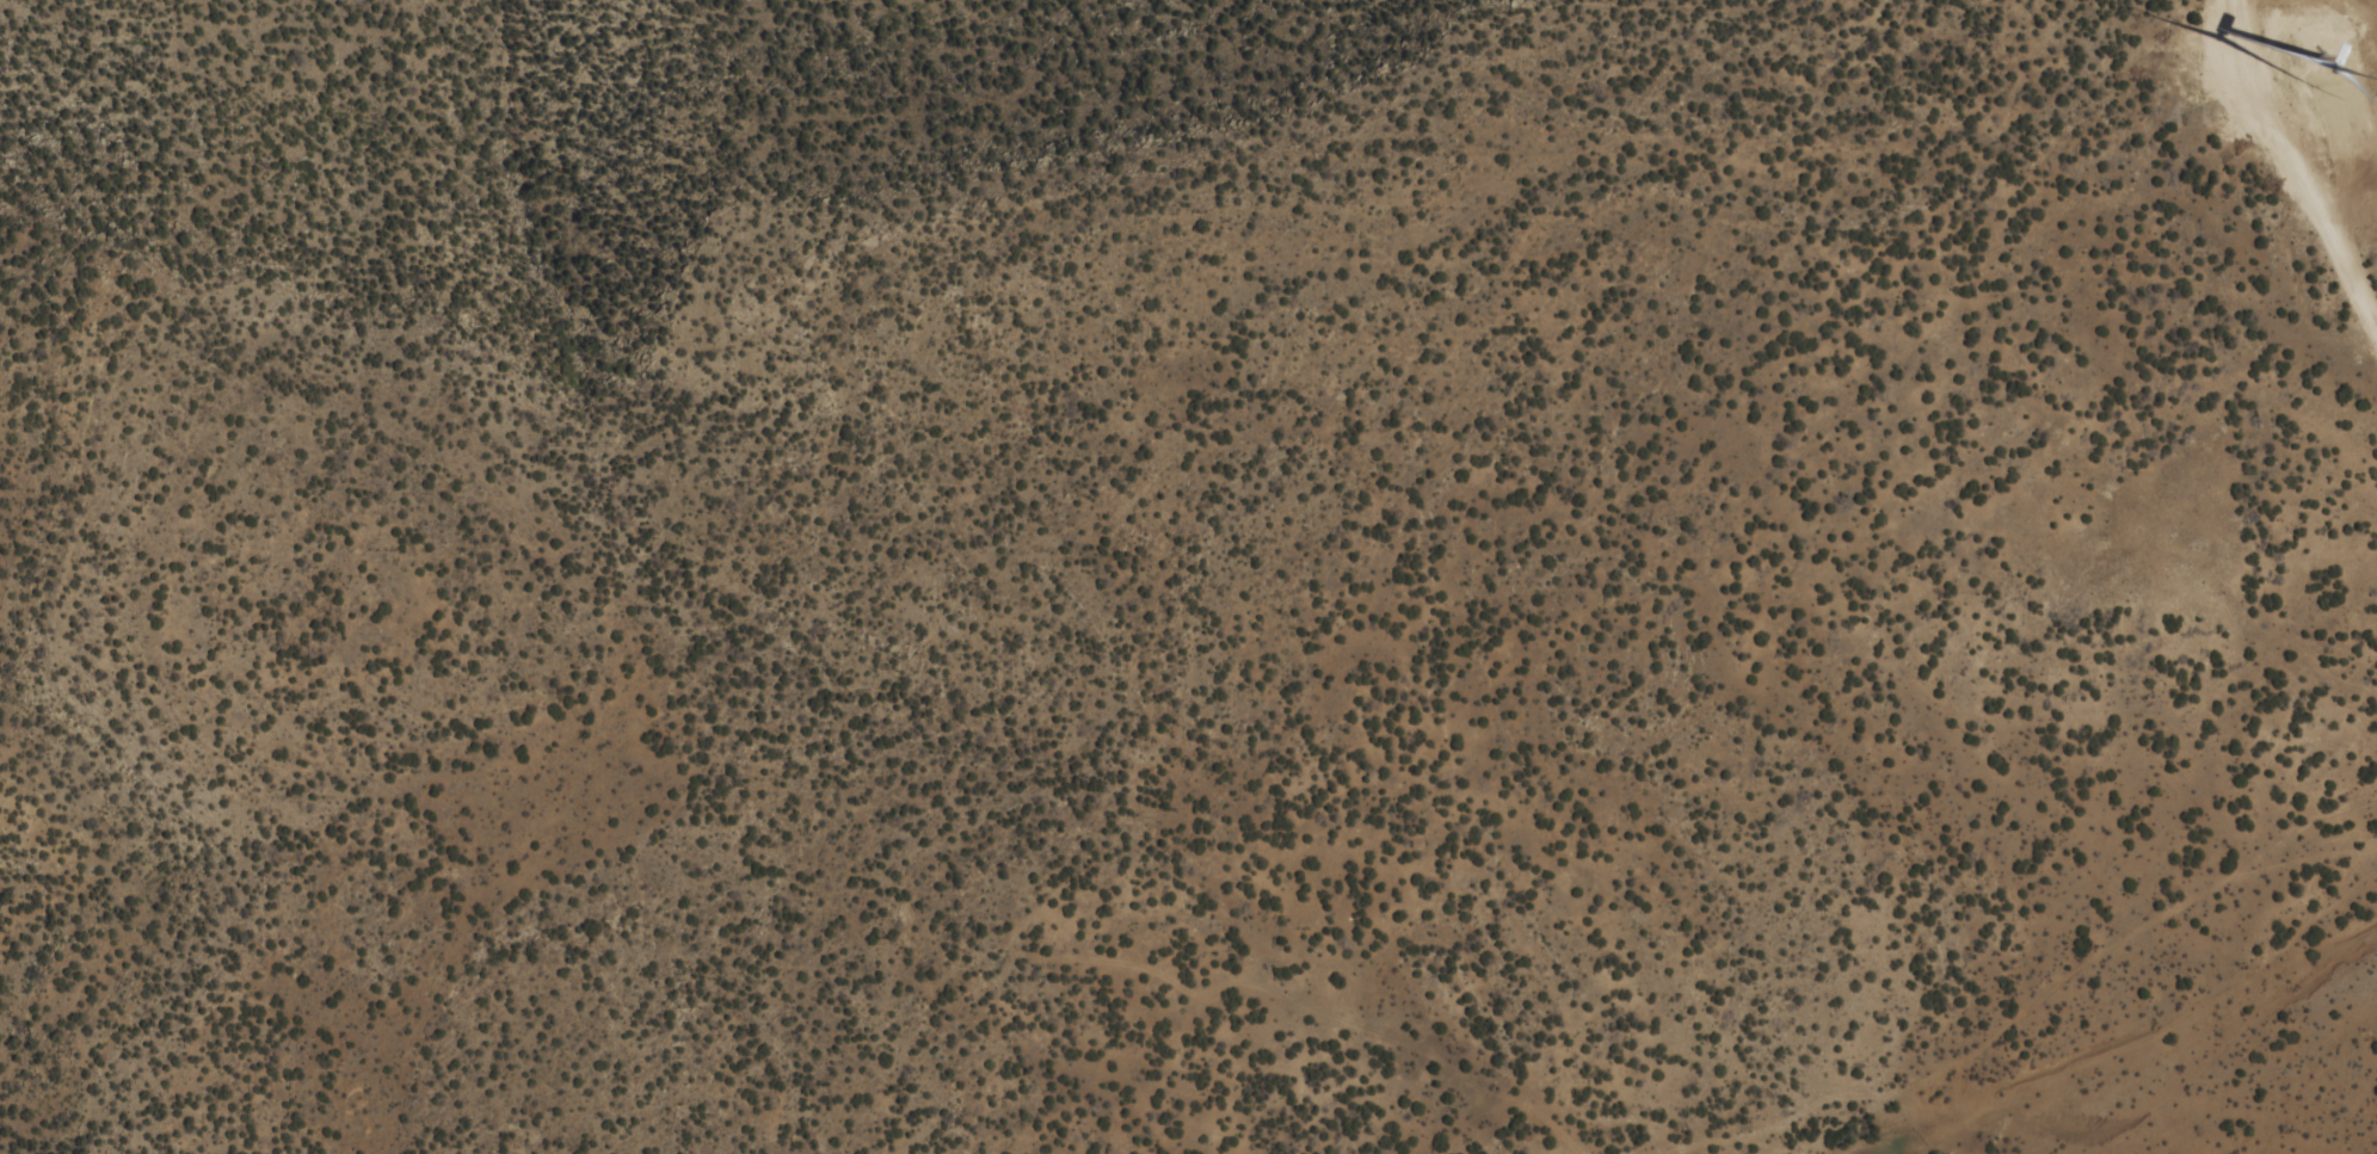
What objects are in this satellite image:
wind turbine: (2319, 90)
road: (2178, 1066)

